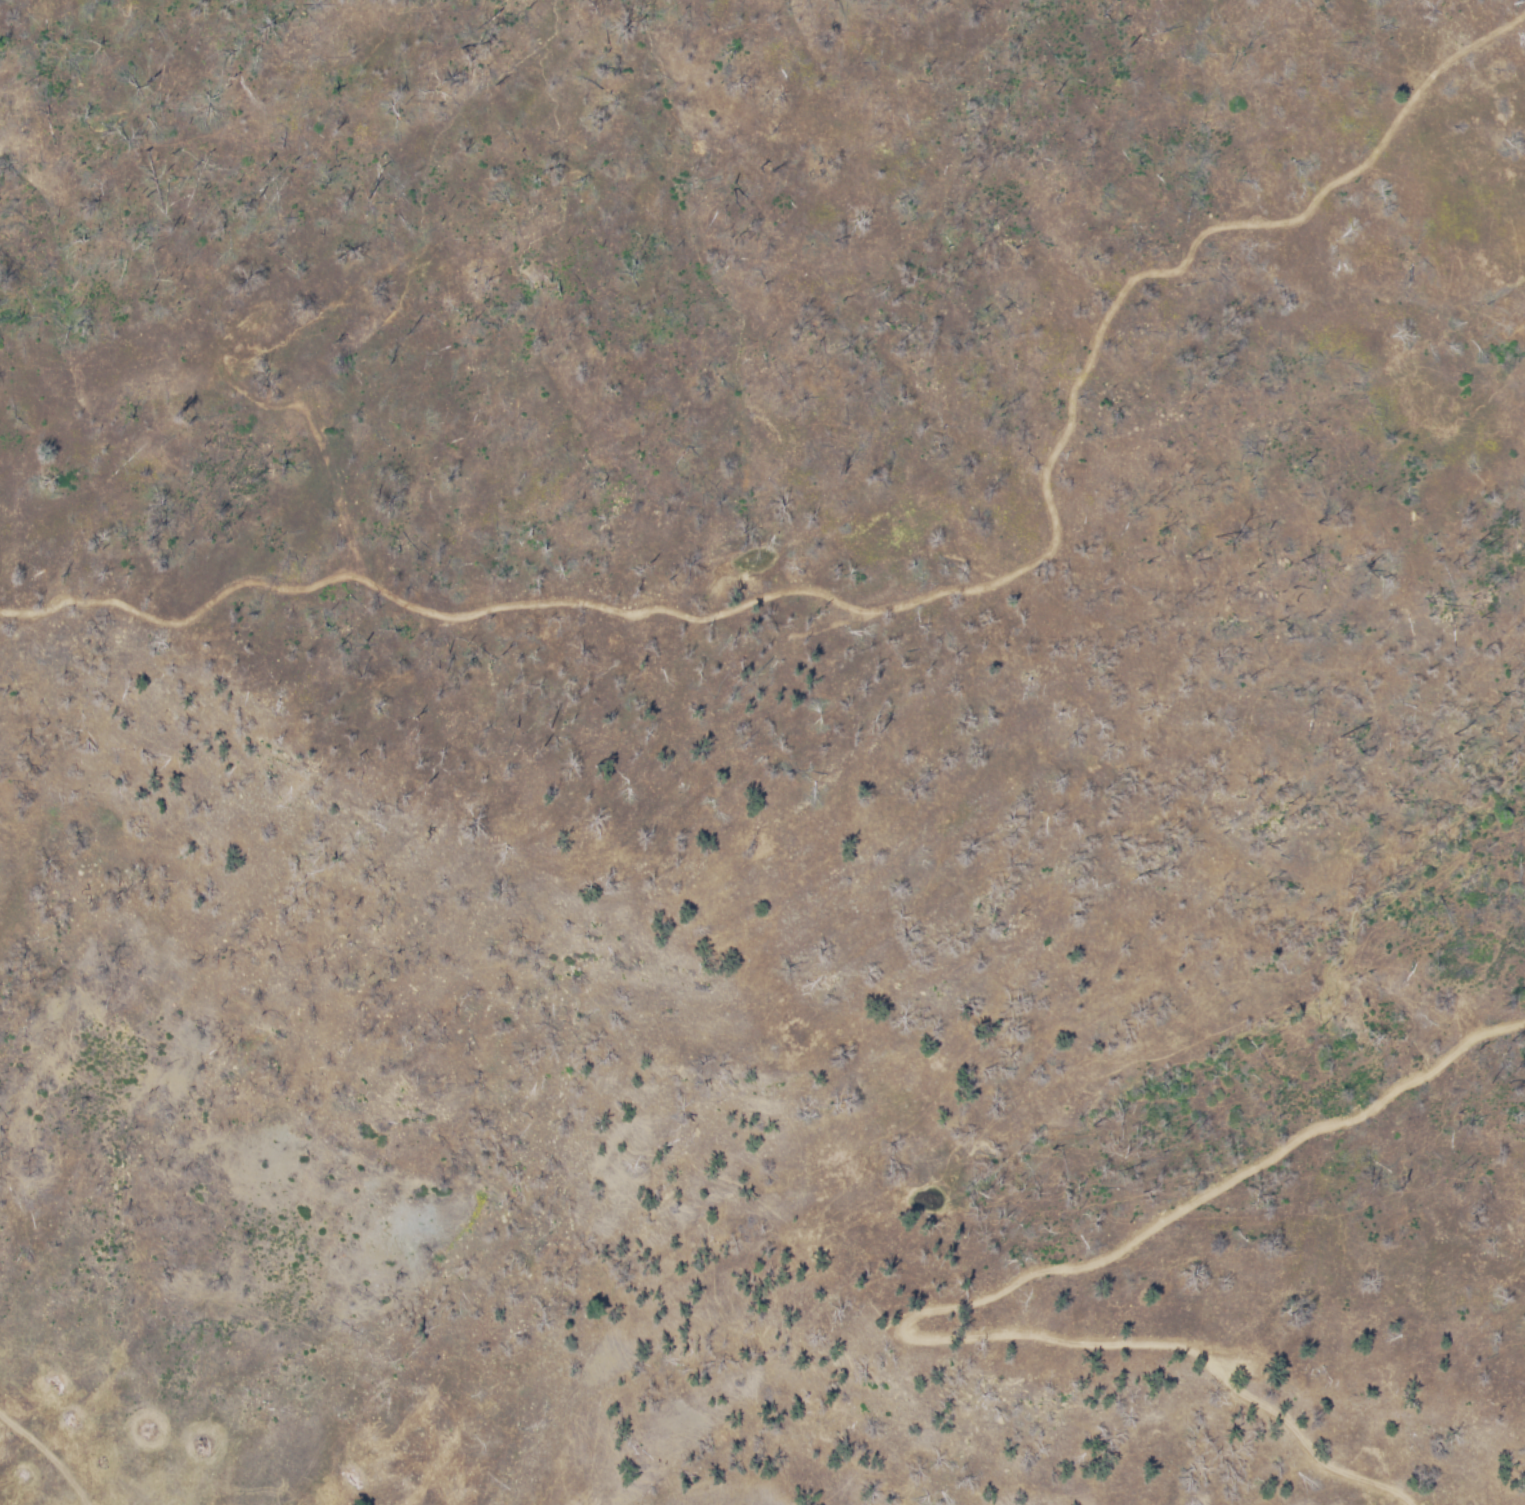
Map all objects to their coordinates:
road: (955, 1305)
road: (62, 1447)

